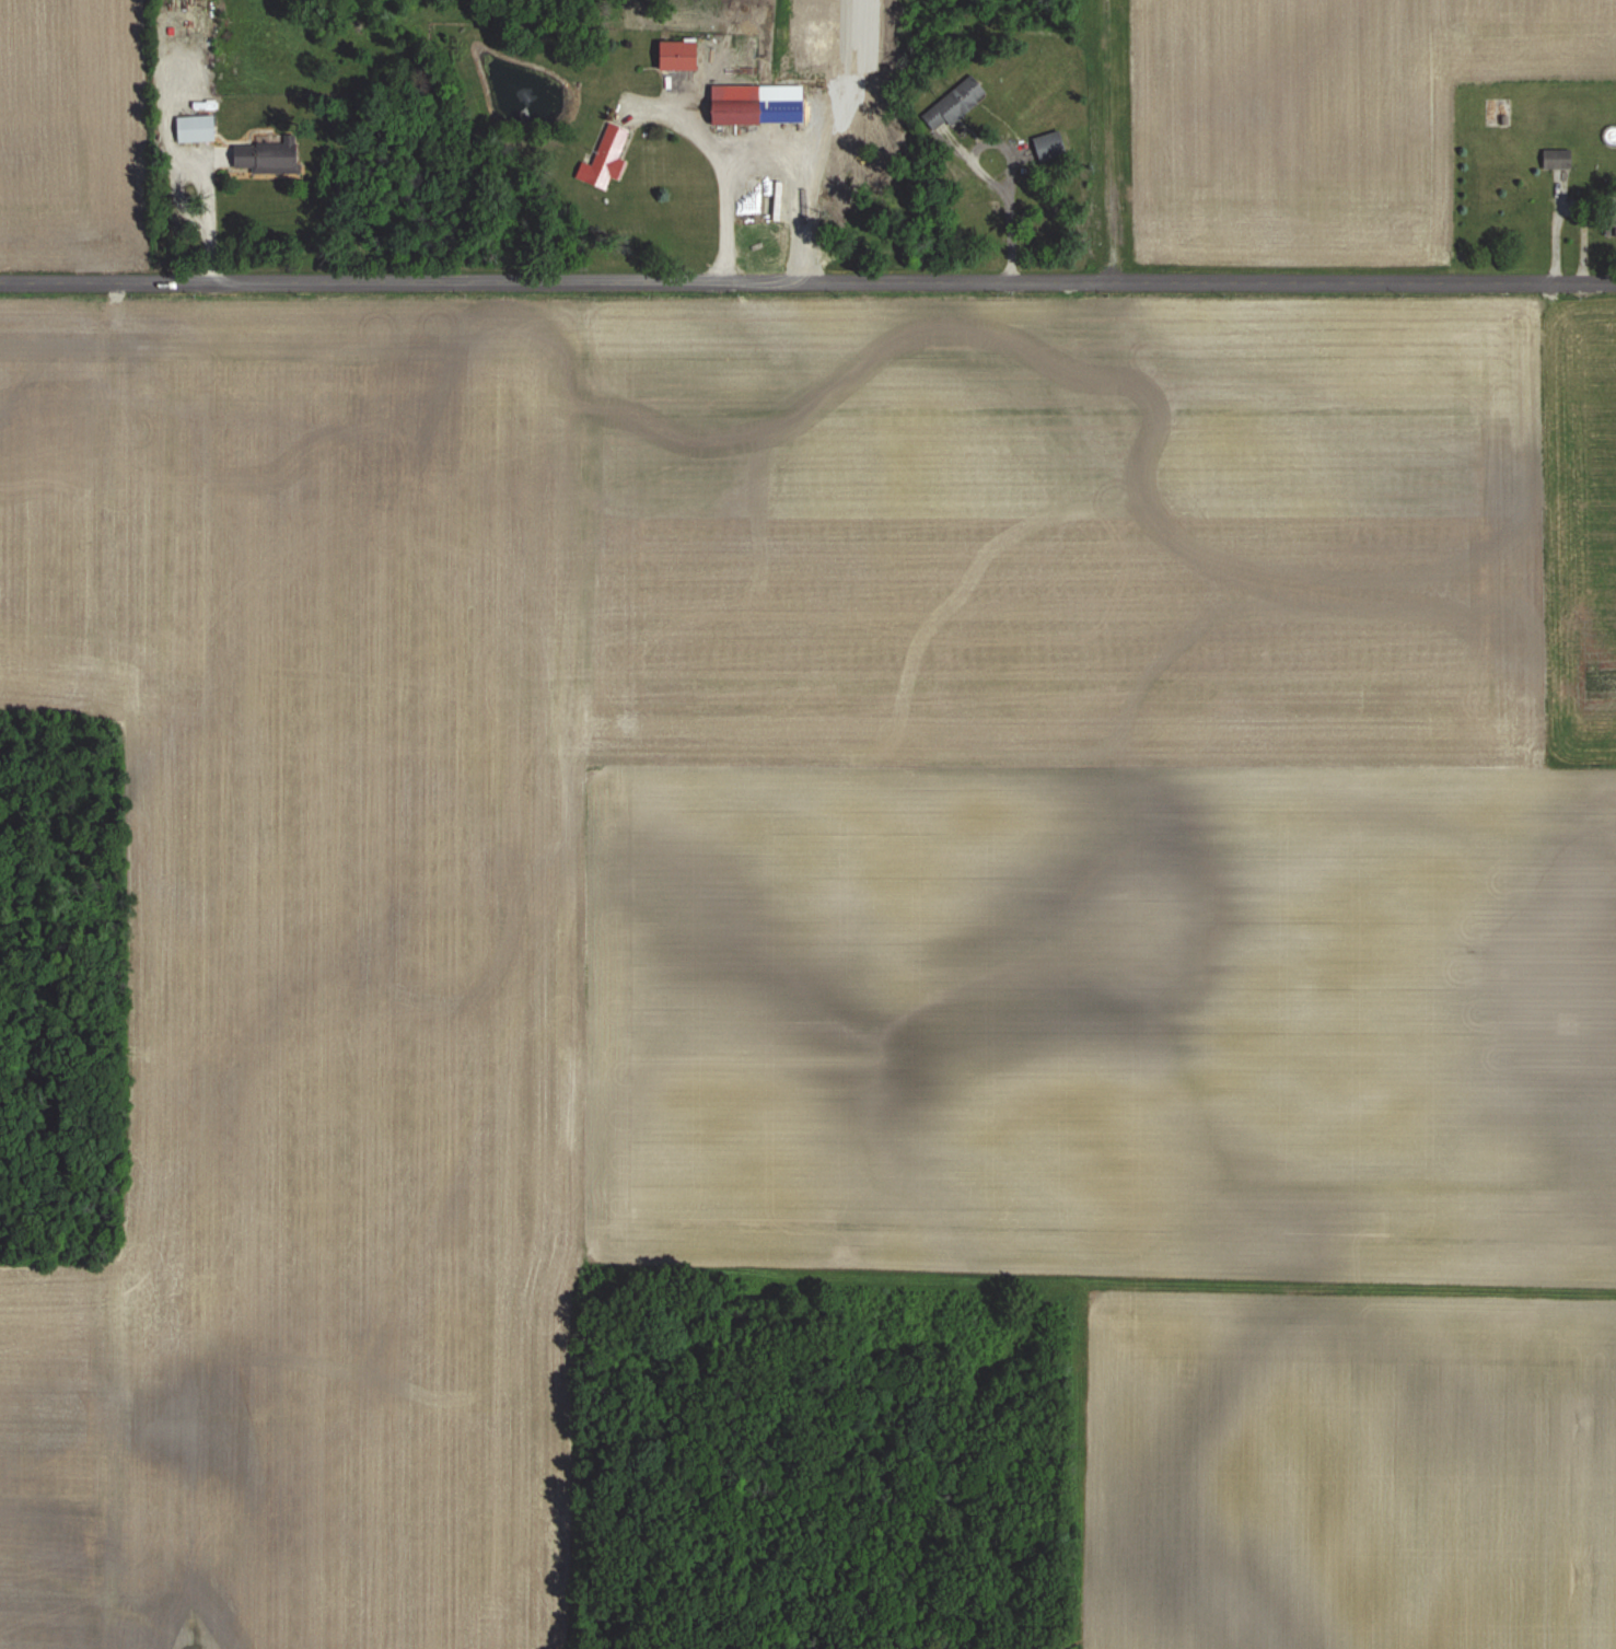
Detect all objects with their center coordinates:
building: (685, 54)
building: (957, 100)
building: (743, 103)
building: (199, 128)
building: (270, 155)
building: (607, 158)
building: (1560, 158)
road: (717, 163)
road: (1005, 217)
road: (207, 219)
road: (807, 286)

